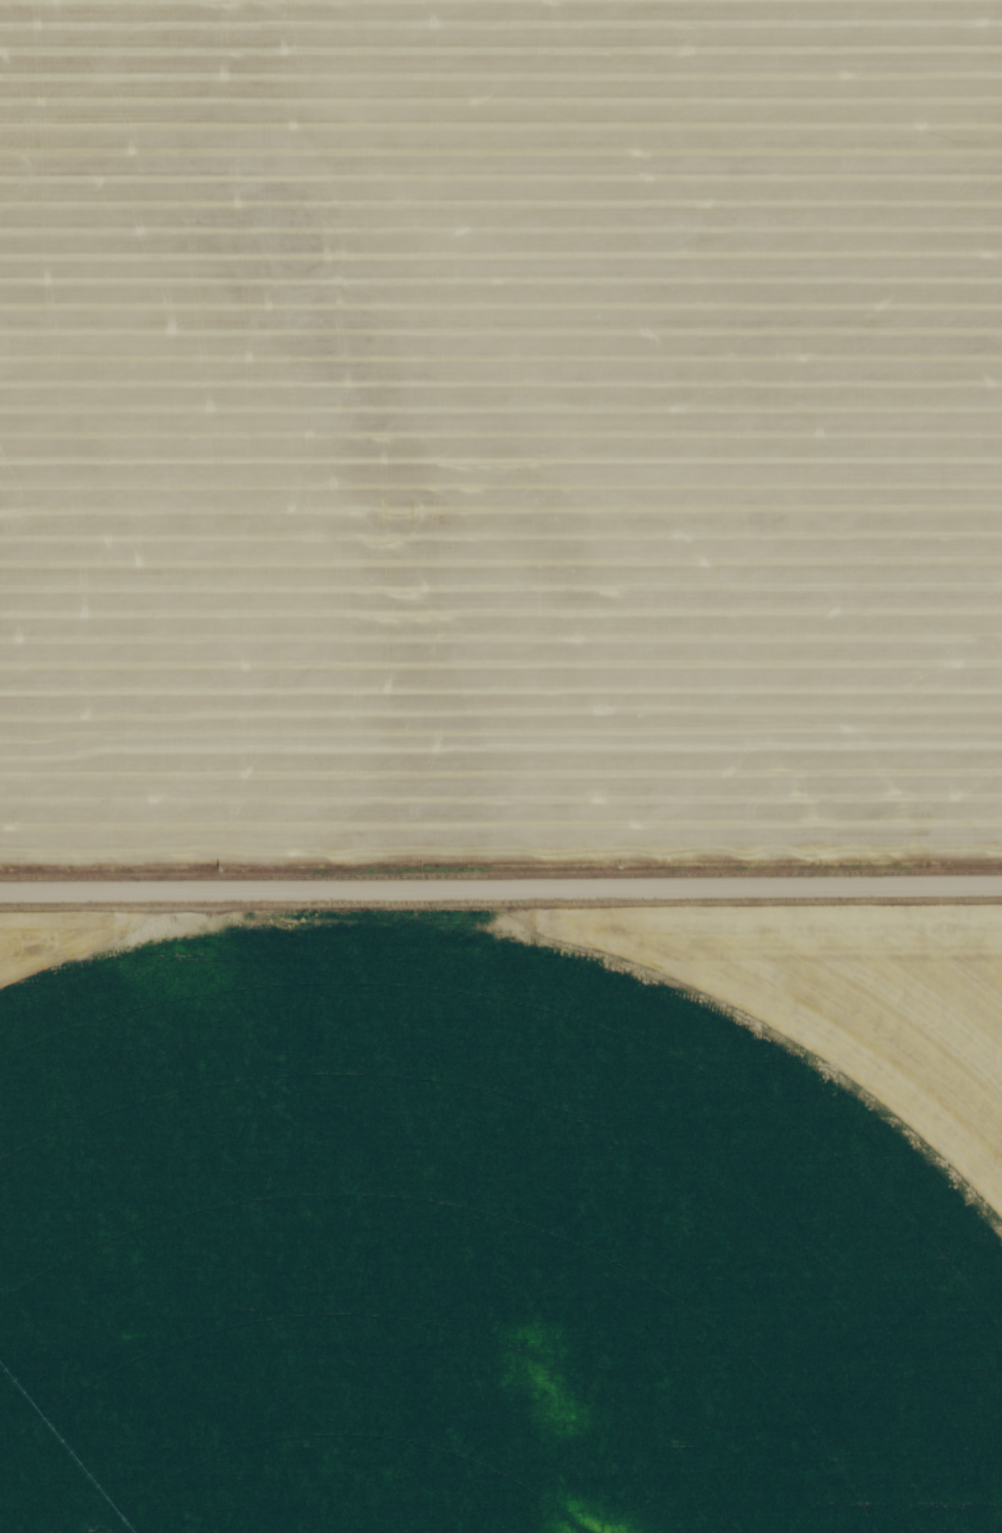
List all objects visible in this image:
crop: (500, 431)
road: (501, 888)
crop: (501, 1224)

